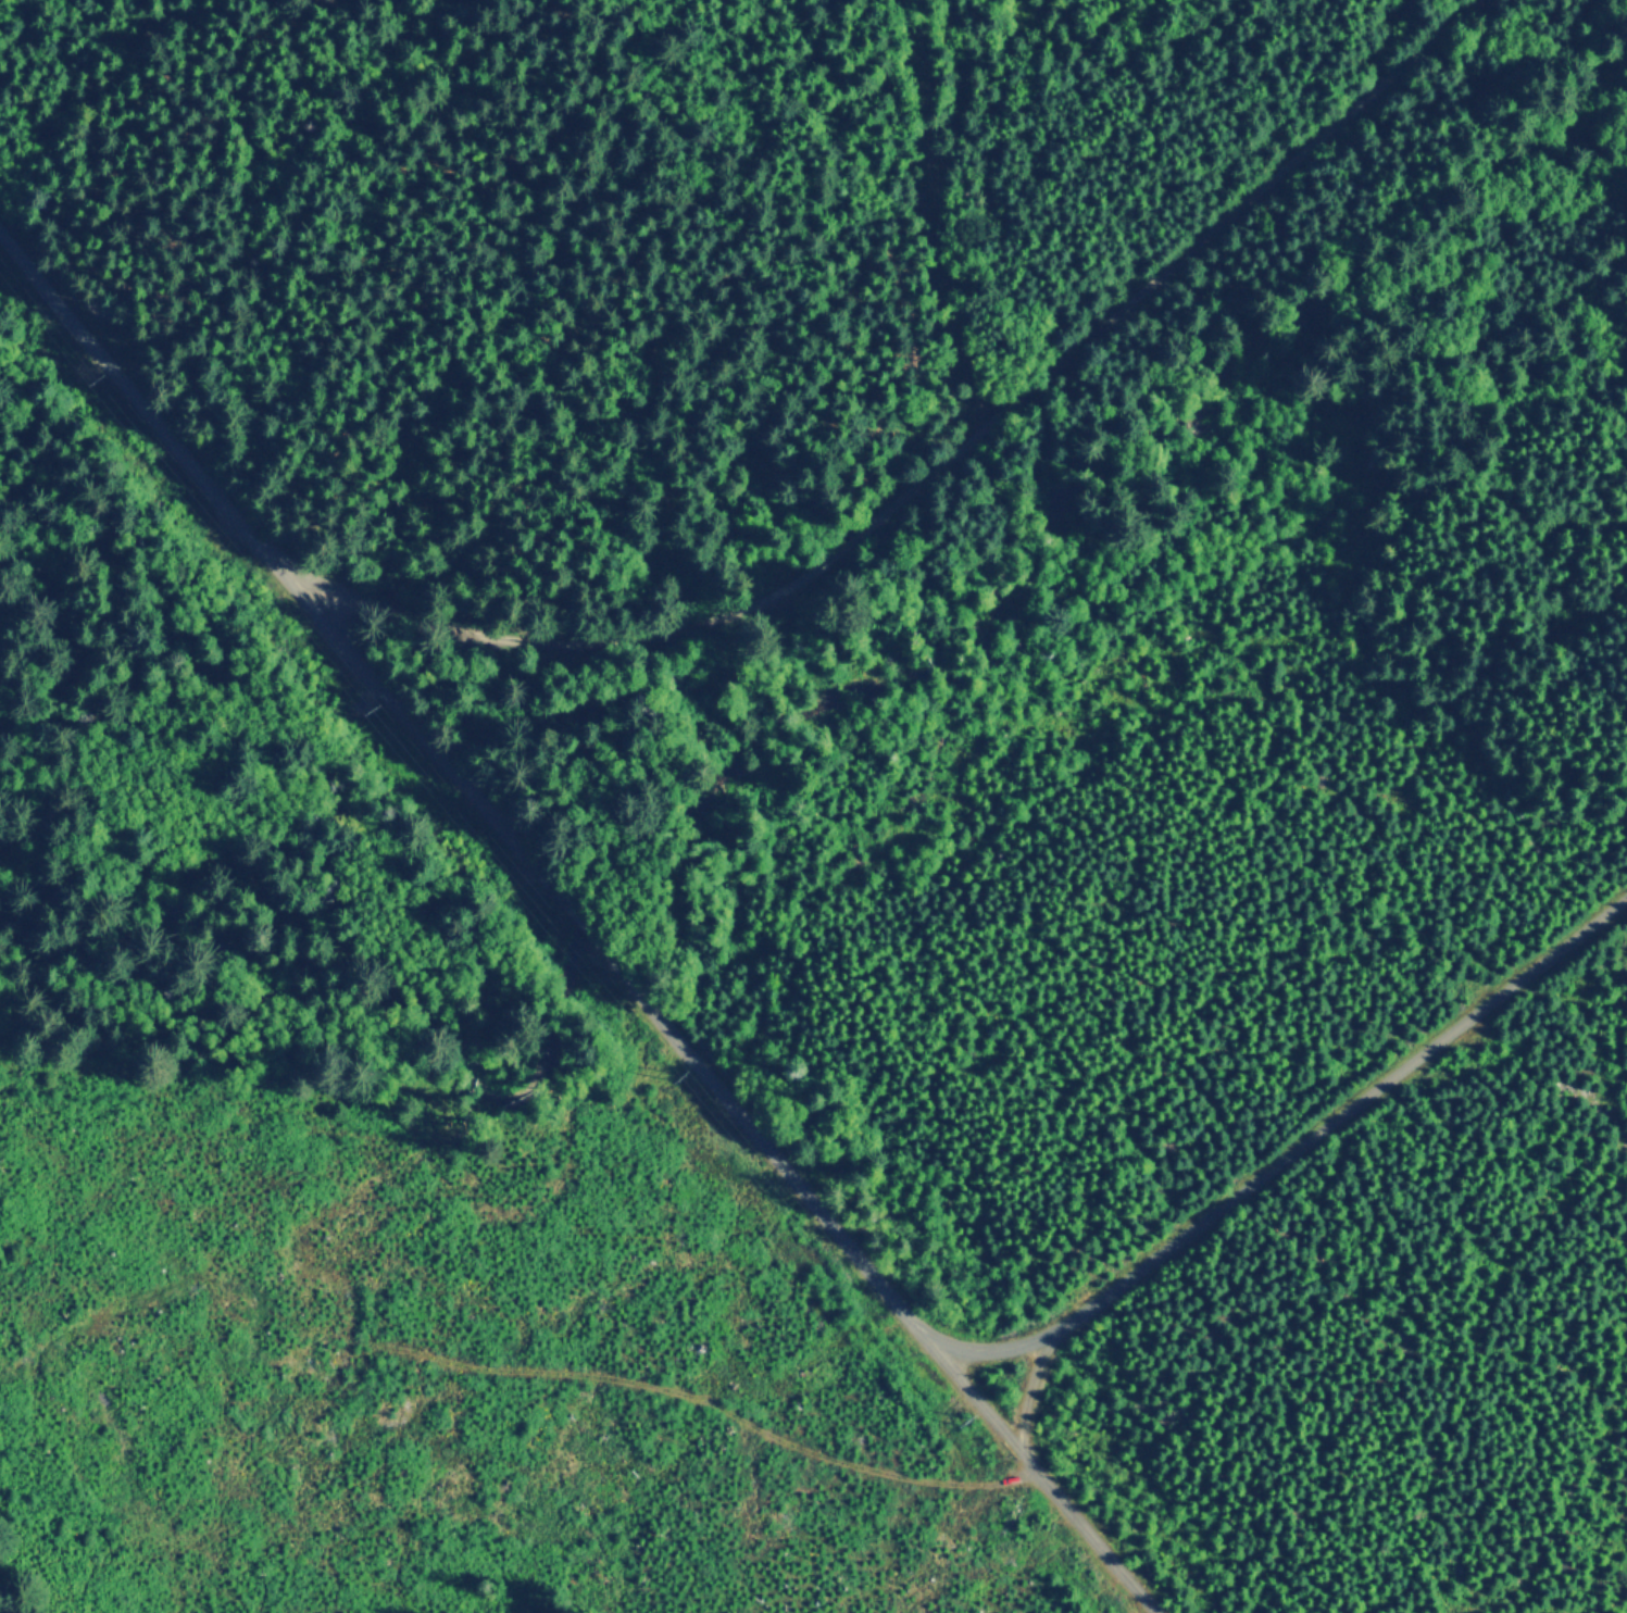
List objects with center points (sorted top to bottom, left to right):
road: (959, 465)
road: (599, 912)
road: (1286, 1146)
road: (1031, 1383)

